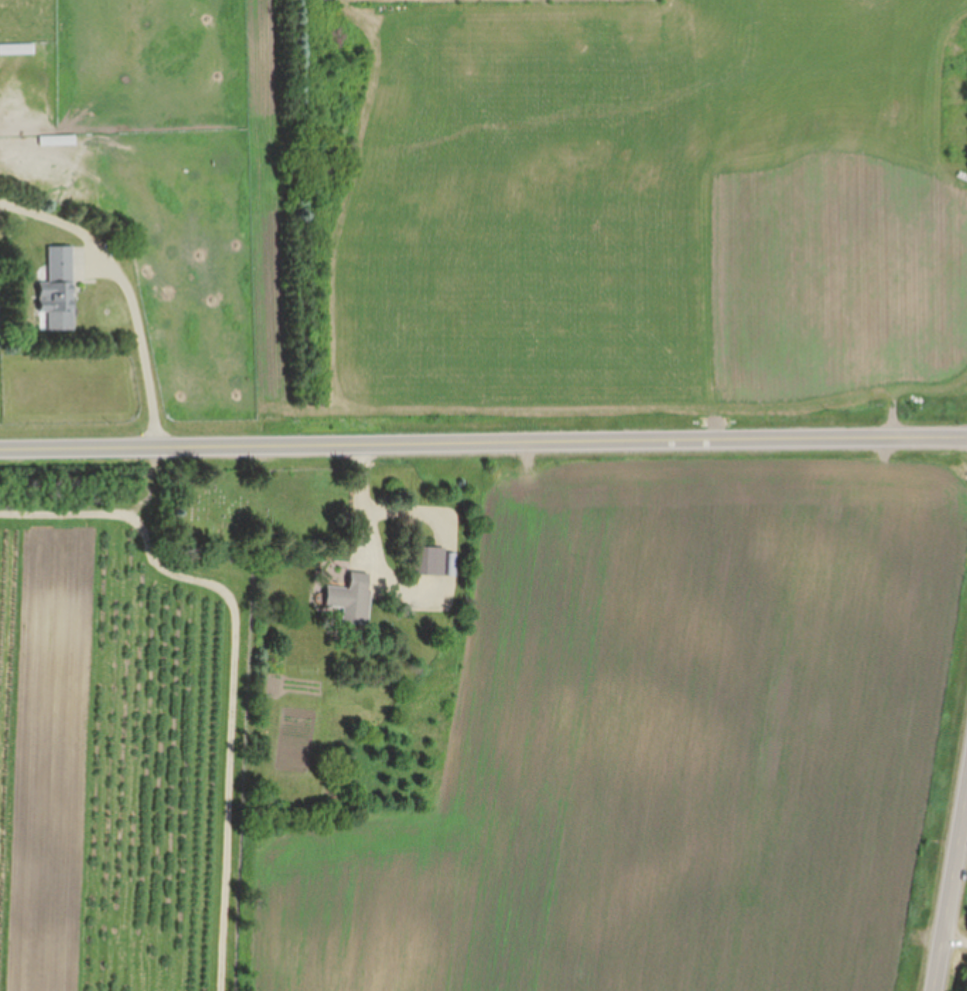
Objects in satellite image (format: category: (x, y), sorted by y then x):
building: (59, 291)
road: (152, 386)
road: (483, 441)
road: (369, 502)
building: (433, 561)
building: (353, 599)
road: (235, 722)
road: (951, 897)
road: (956, 936)

